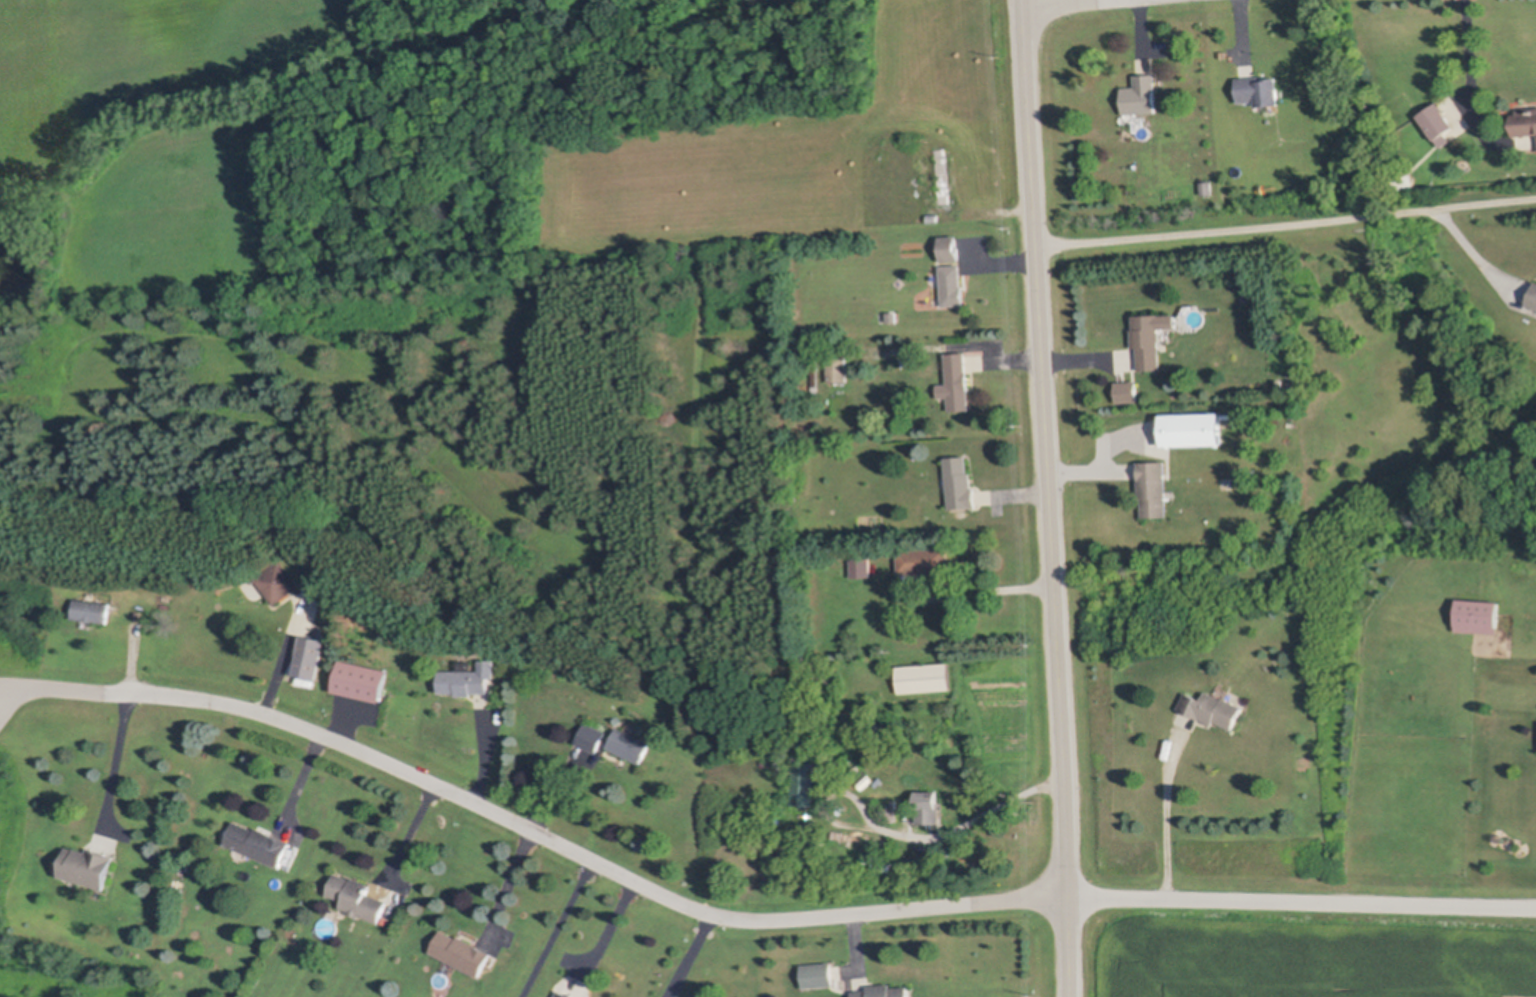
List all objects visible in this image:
road: (1062, 3)
crop: (936, 55)
building: (1260, 90)
building: (1143, 94)
building: (1525, 121)
building: (1438, 122)
crop: (149, 146)
building: (942, 176)
building: (1406, 182)
building: (1208, 186)
crop: (700, 191)
building: (933, 217)
road: (1286, 223)
building: (950, 248)
road: (1479, 257)
building: (953, 286)
building: (1533, 299)
building: (893, 316)
building: (1152, 338)
building: (908, 362)
building: (838, 368)
building: (816, 374)
building: (812, 375)
building: (957, 381)
building: (1127, 391)
building: (1193, 429)
building: (961, 482)
building: (1155, 488)
road: (1048, 498)
building: (925, 560)
building: (862, 569)
building: (311, 579)
building: (279, 582)
road: (983, 592)
building: (93, 609)
building: (1479, 616)
road: (286, 656)
building: (309, 658)
building: (926, 678)
building: (470, 680)
building: (361, 682)
road: (14, 683)
building: (1214, 709)
building: (592, 738)
building: (632, 746)
road: (485, 754)
road: (116, 766)
road: (303, 781)
building: (805, 783)
building: (931, 807)
road: (527, 831)
road: (411, 836)
road: (904, 837)
building: (260, 844)
building: (880, 863)
building: (186, 864)
building: (90, 866)
road: (510, 884)
building: (358, 898)
road: (1302, 901)
road: (555, 930)
road: (605, 935)
building: (463, 953)
road: (686, 954)
building: (819, 976)
building: (884, 992)
building: (566, 994)

